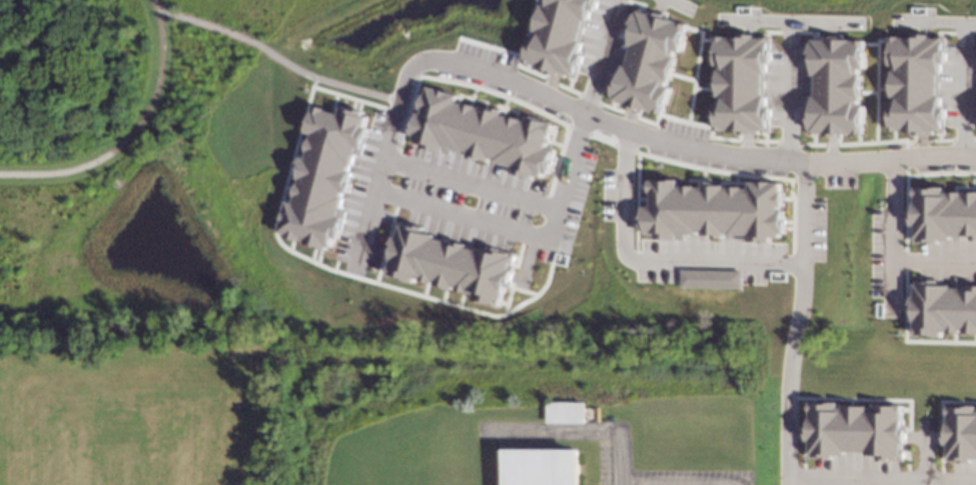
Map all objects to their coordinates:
road: (674, 1)
road: (637, 2)
road: (659, 5)
parking lot: (686, 7)
parking lot: (724, 19)
parking lot: (898, 19)
road: (789, 20)
road: (941, 20)
road: (533, 21)
parking lot: (857, 22)
road: (749, 26)
road: (923, 26)
road: (527, 27)
road: (831, 29)
road: (770, 31)
road: (790, 32)
road: (810, 32)
road: (945, 32)
road: (964, 32)
road: (975, 33)
building: (558, 36)
road: (708, 39)
road: (870, 43)
parking lot: (605, 44)
road: (508, 51)
parking lot: (484, 53)
road: (600, 56)
road: (276, 58)
building: (648, 61)
road: (695, 69)
road: (683, 76)
road: (451, 80)
road: (550, 80)
road: (312, 82)
building: (741, 83)
road: (876, 83)
building: (916, 83)
road: (548, 84)
parking lot: (788, 84)
parking lot: (960, 85)
building: (835, 86)
road: (704, 87)
road: (567, 88)
road: (883, 88)
road: (963, 88)
parking lot: (495, 89)
road: (788, 90)
road: (868, 91)
park: (100, 92)
road: (588, 98)
road: (610, 107)
road: (396, 111)
road: (585, 113)
road: (629, 114)
road: (627, 119)
road: (688, 122)
parking lot: (682, 128)
road: (578, 129)
road: (128, 131)
building: (483, 133)
road: (601, 139)
road: (938, 139)
road: (962, 139)
road: (974, 139)
road: (744, 140)
road: (764, 140)
road: (919, 140)
road: (875, 141)
road: (787, 142)
road: (745, 144)
road: (810, 144)
road: (829, 144)
road: (908, 144)
road: (920, 145)
road: (623, 147)
road: (830, 149)
road: (907, 157)
parking lot: (712, 163)
road: (718, 170)
road: (940, 172)
building: (323, 175)
parking lot: (838, 180)
road: (971, 181)
road: (469, 184)
road: (959, 186)
road: (975, 189)
road: (906, 190)
road: (910, 191)
parking lot: (607, 194)
parking lot: (453, 196)
building: (713, 210)
building: (942, 214)
road: (391, 217)
road: (900, 218)
road: (905, 218)
parking lot: (815, 228)
road: (524, 235)
road: (908, 236)
road: (376, 237)
road: (890, 237)
road: (904, 237)
road: (384, 240)
parking lot: (875, 251)
parking lot: (707, 258)
road: (649, 260)
road: (932, 260)
road: (903, 261)
parking lot: (947, 261)
building: (448, 263)
road: (317, 264)
road: (377, 264)
road: (523, 264)
road: (351, 272)
building: (707, 278)
road: (903, 284)
road: (520, 290)
road: (505, 294)
road: (897, 303)
road: (903, 304)
building: (941, 309)
road: (795, 323)
road: (923, 340)
road: (865, 398)
road: (939, 401)
building: (567, 409)
park: (140, 410)
parking lot: (923, 425)
building: (853, 429)
road: (794, 433)
building: (959, 433)
road: (922, 436)
road: (801, 457)
road: (905, 459)
road: (922, 461)
road: (939, 461)
building: (543, 467)
parking lot: (852, 472)
parking lot: (962, 473)
road: (801, 476)
road: (905, 477)
road: (939, 478)
road: (880, 480)

